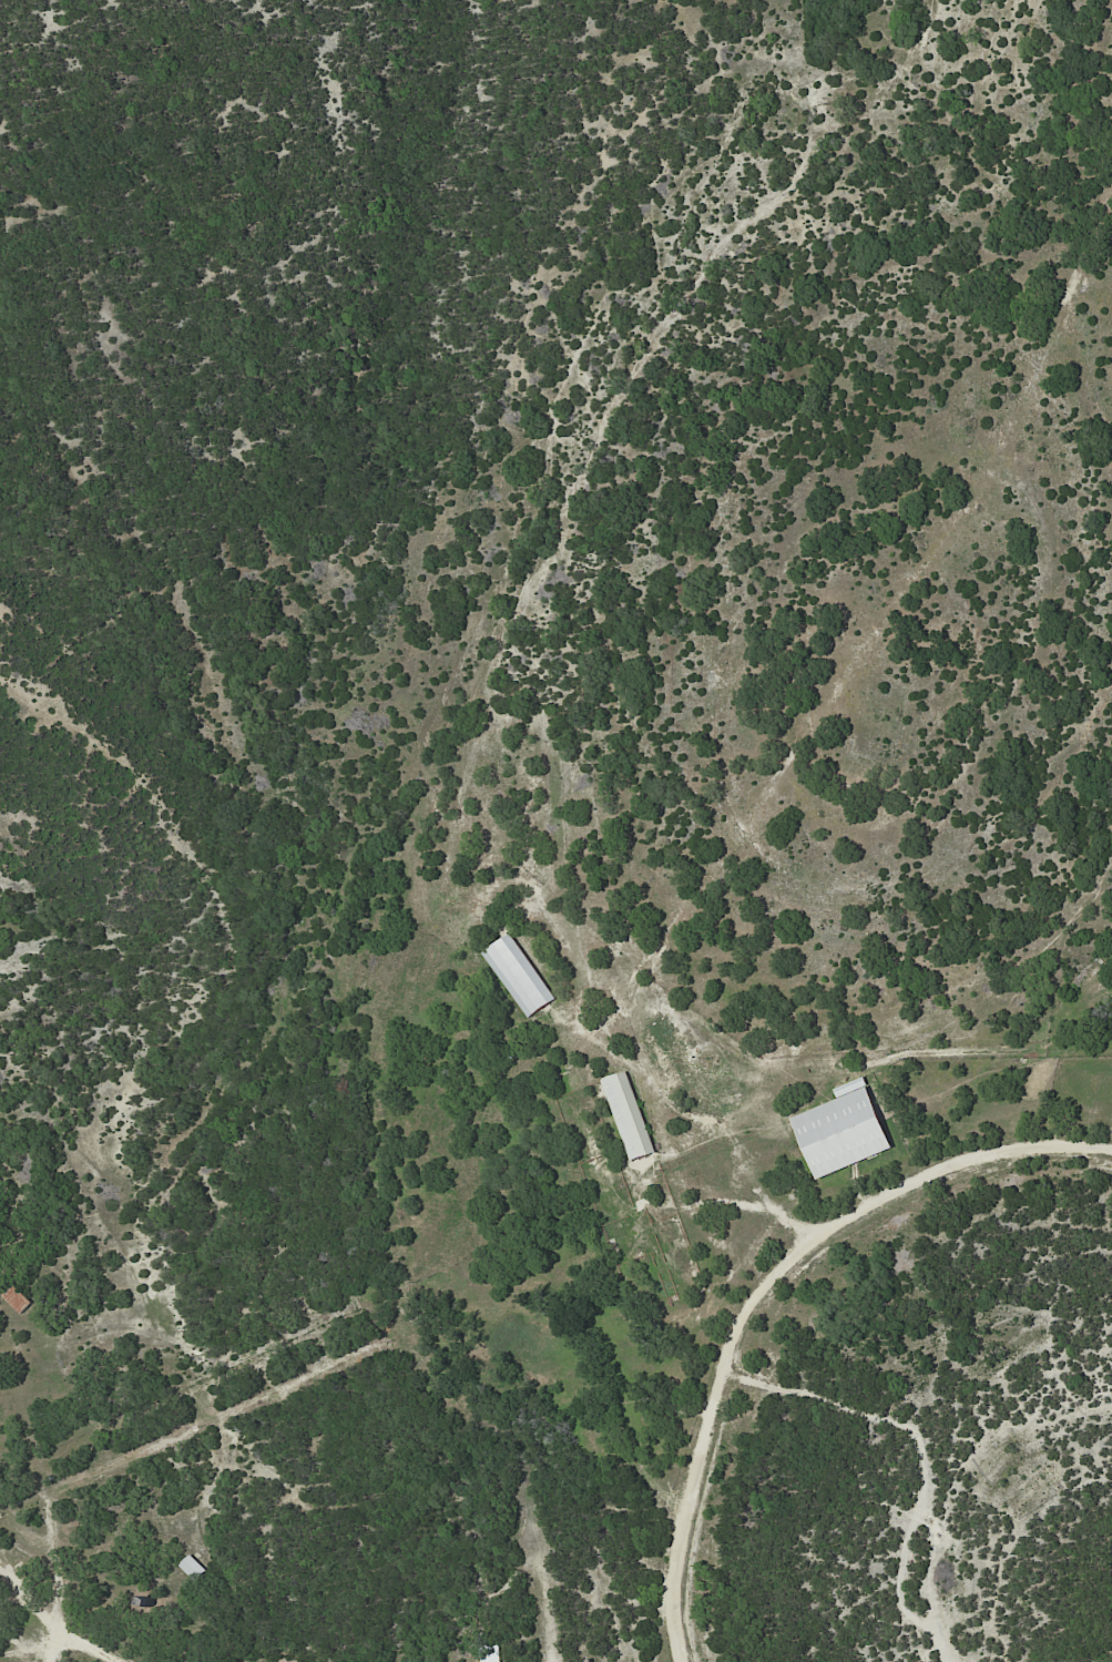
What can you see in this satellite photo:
building: (518, 975)
building: (626, 1114)
building: (840, 1131)
road: (763, 1289)
building: (192, 1567)
road: (33, 1601)
road: (80, 1644)

